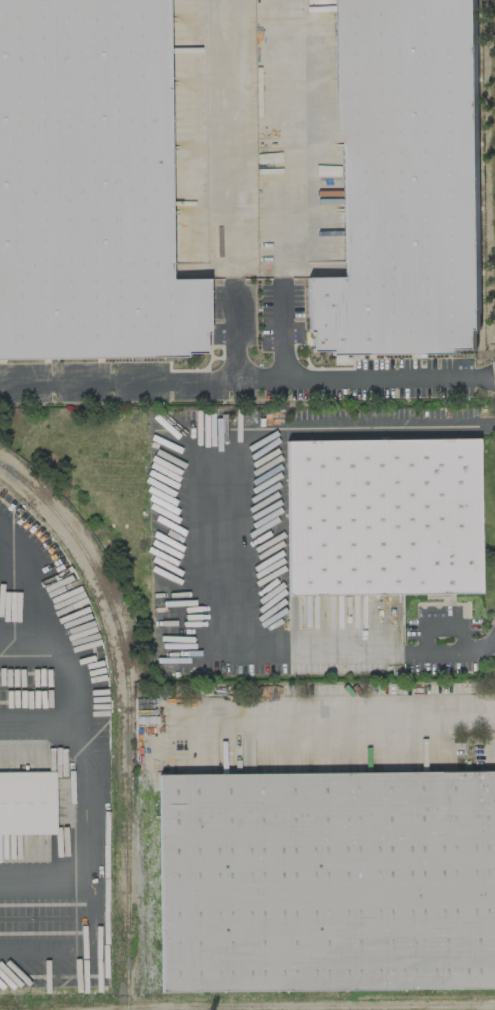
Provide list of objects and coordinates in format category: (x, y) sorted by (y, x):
building: (403, 184)
building: (88, 185)
road: (281, 188)
road: (235, 189)
road: (247, 378)
building: (381, 514)
road: (213, 542)
road: (11, 586)
railway: (111, 606)
road: (6, 652)
road: (70, 665)
road: (332, 714)
road: (39, 730)
building: (26, 801)
road: (90, 848)
building: (326, 879)
railway: (128, 899)
building: (146, 906)
road: (82, 945)

